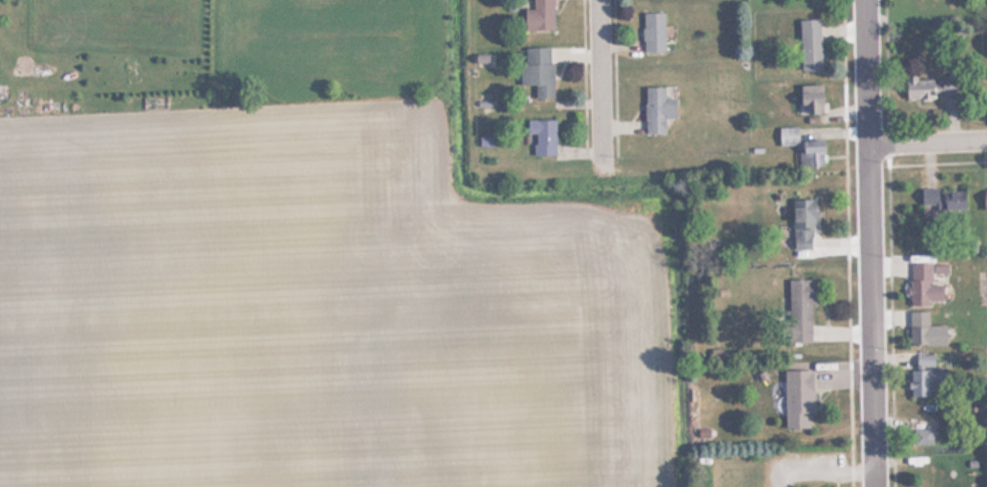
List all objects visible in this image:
building: (538, 16)
building: (653, 33)
building: (810, 44)
building: (538, 70)
building: (28, 72)
road: (590, 76)
road: (621, 77)
road: (606, 80)
building: (929, 89)
building: (657, 109)
building: (788, 136)
building: (541, 137)
road: (927, 142)
building: (811, 155)
road: (936, 163)
building: (984, 200)
building: (942, 201)
building: (803, 223)
road: (854, 243)
road: (869, 243)
road: (897, 243)
building: (922, 285)
building: (798, 313)
building: (924, 331)
building: (924, 362)
building: (925, 381)
building: (797, 400)
building: (922, 434)

